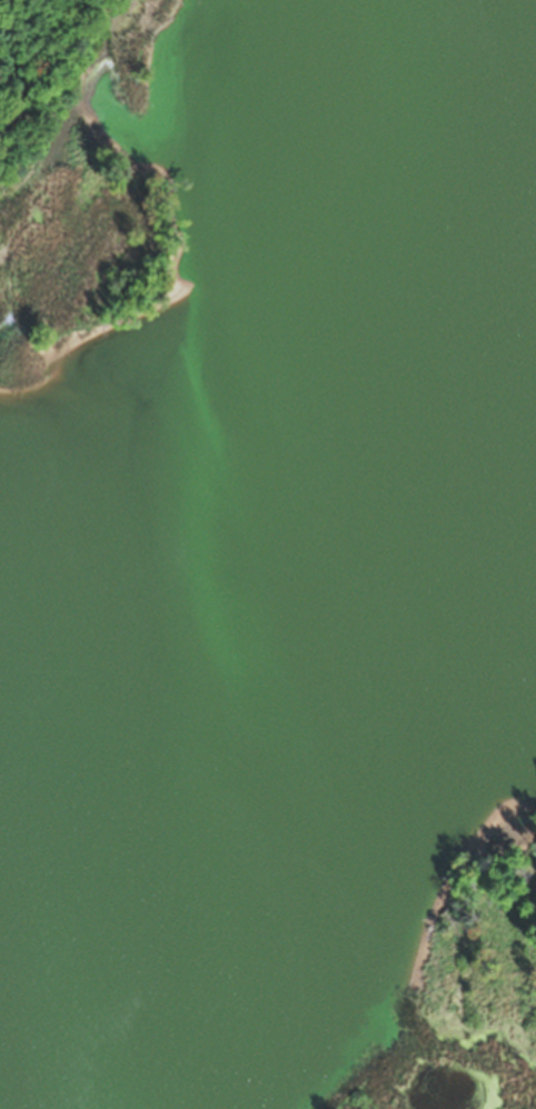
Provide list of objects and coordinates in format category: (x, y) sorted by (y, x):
park: (417, 1016)

